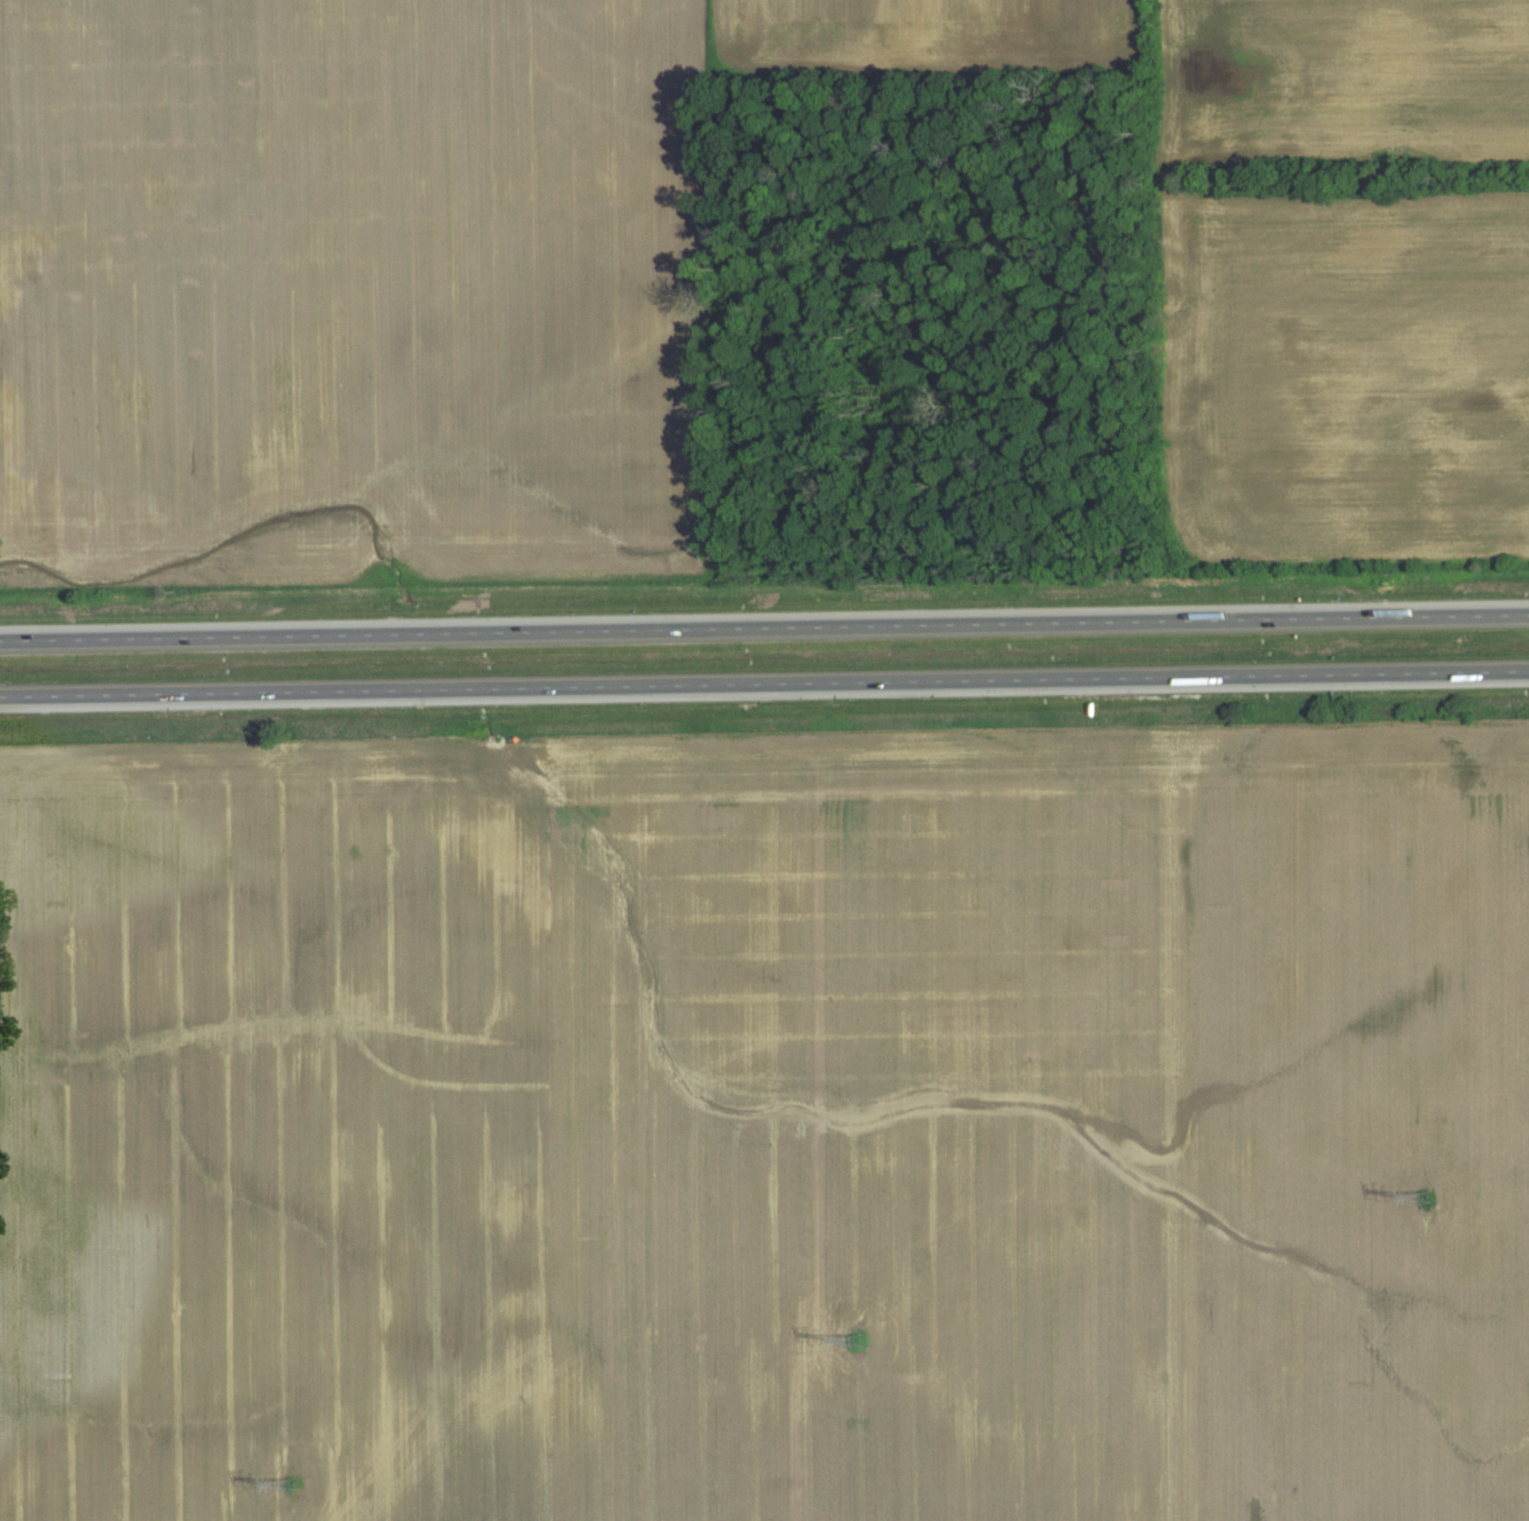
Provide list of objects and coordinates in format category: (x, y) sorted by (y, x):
road: (1406, 616)
road: (642, 629)
road: (764, 684)
power tower: (1428, 1197)
power tower: (859, 1343)
power tower: (293, 1486)

